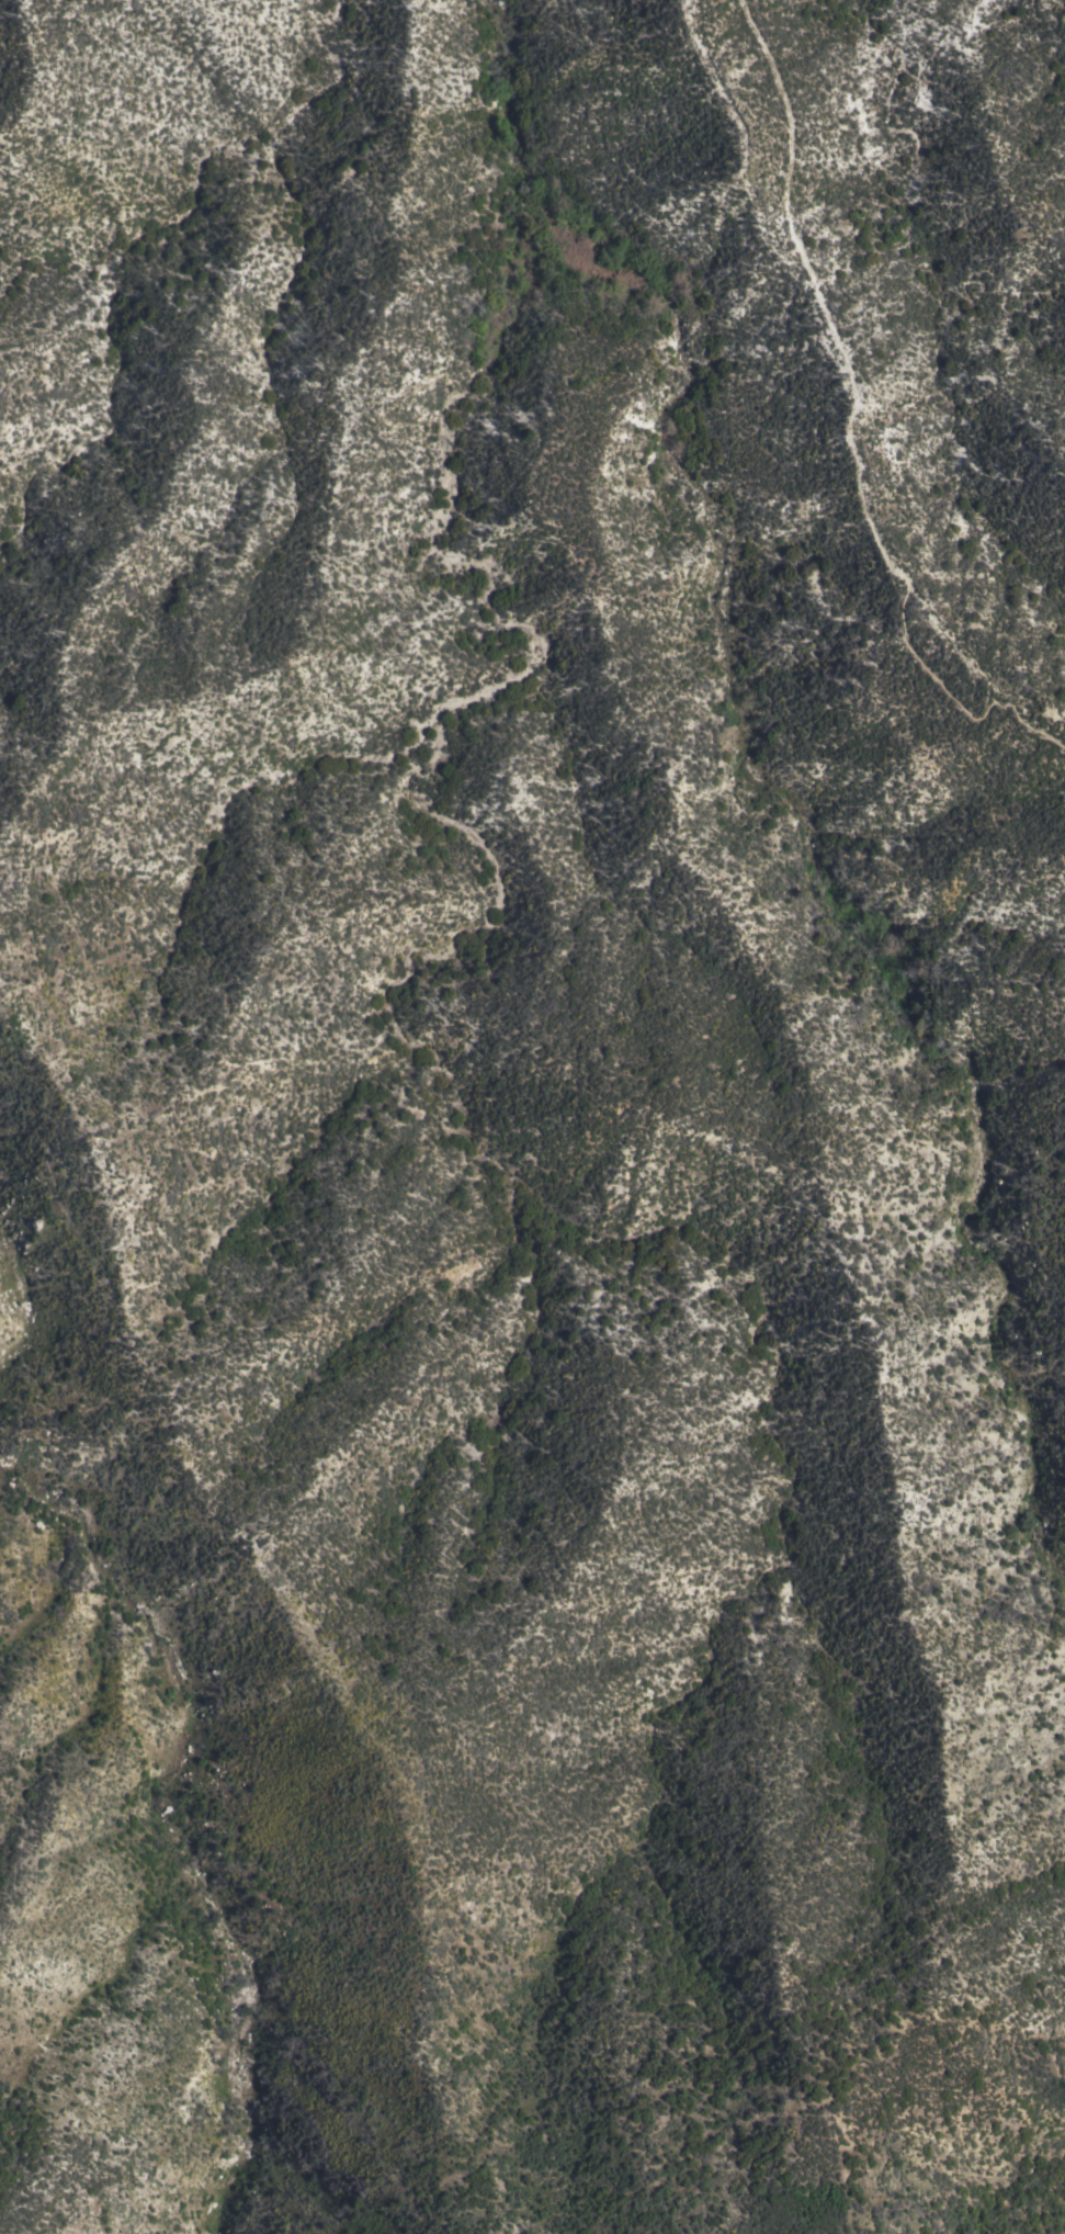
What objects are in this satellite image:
road: (848, 433)

